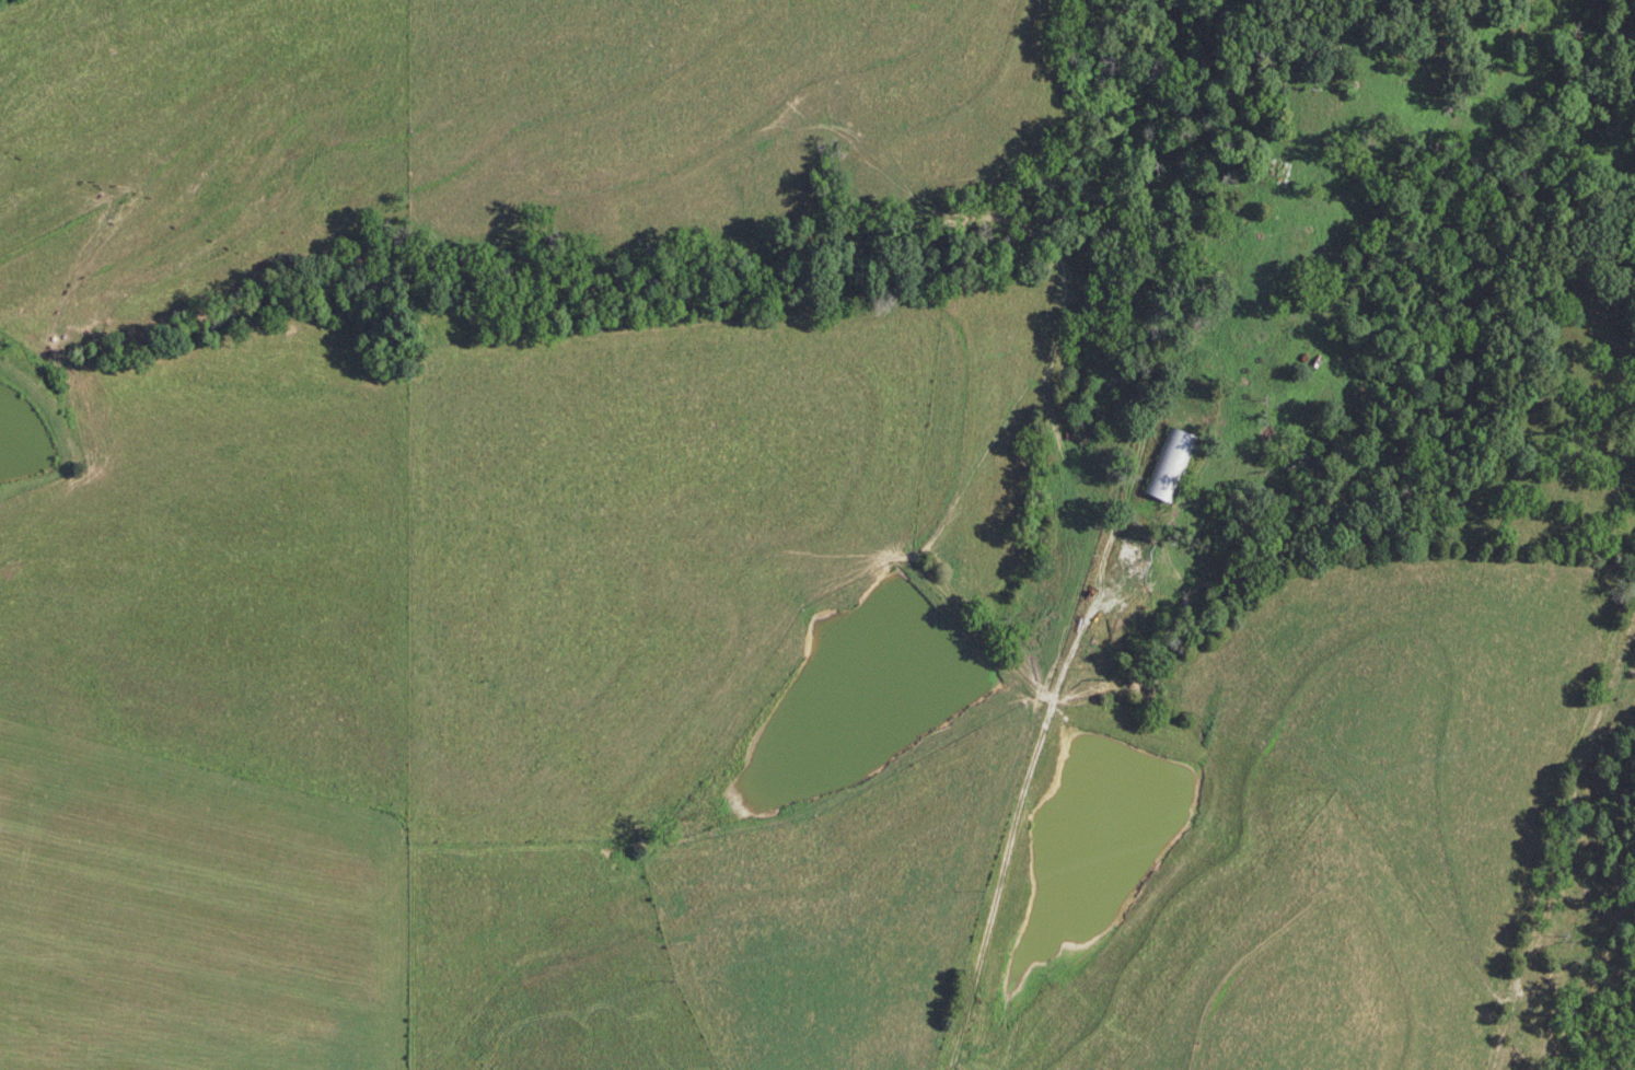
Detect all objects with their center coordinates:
building: (1132, 561)

